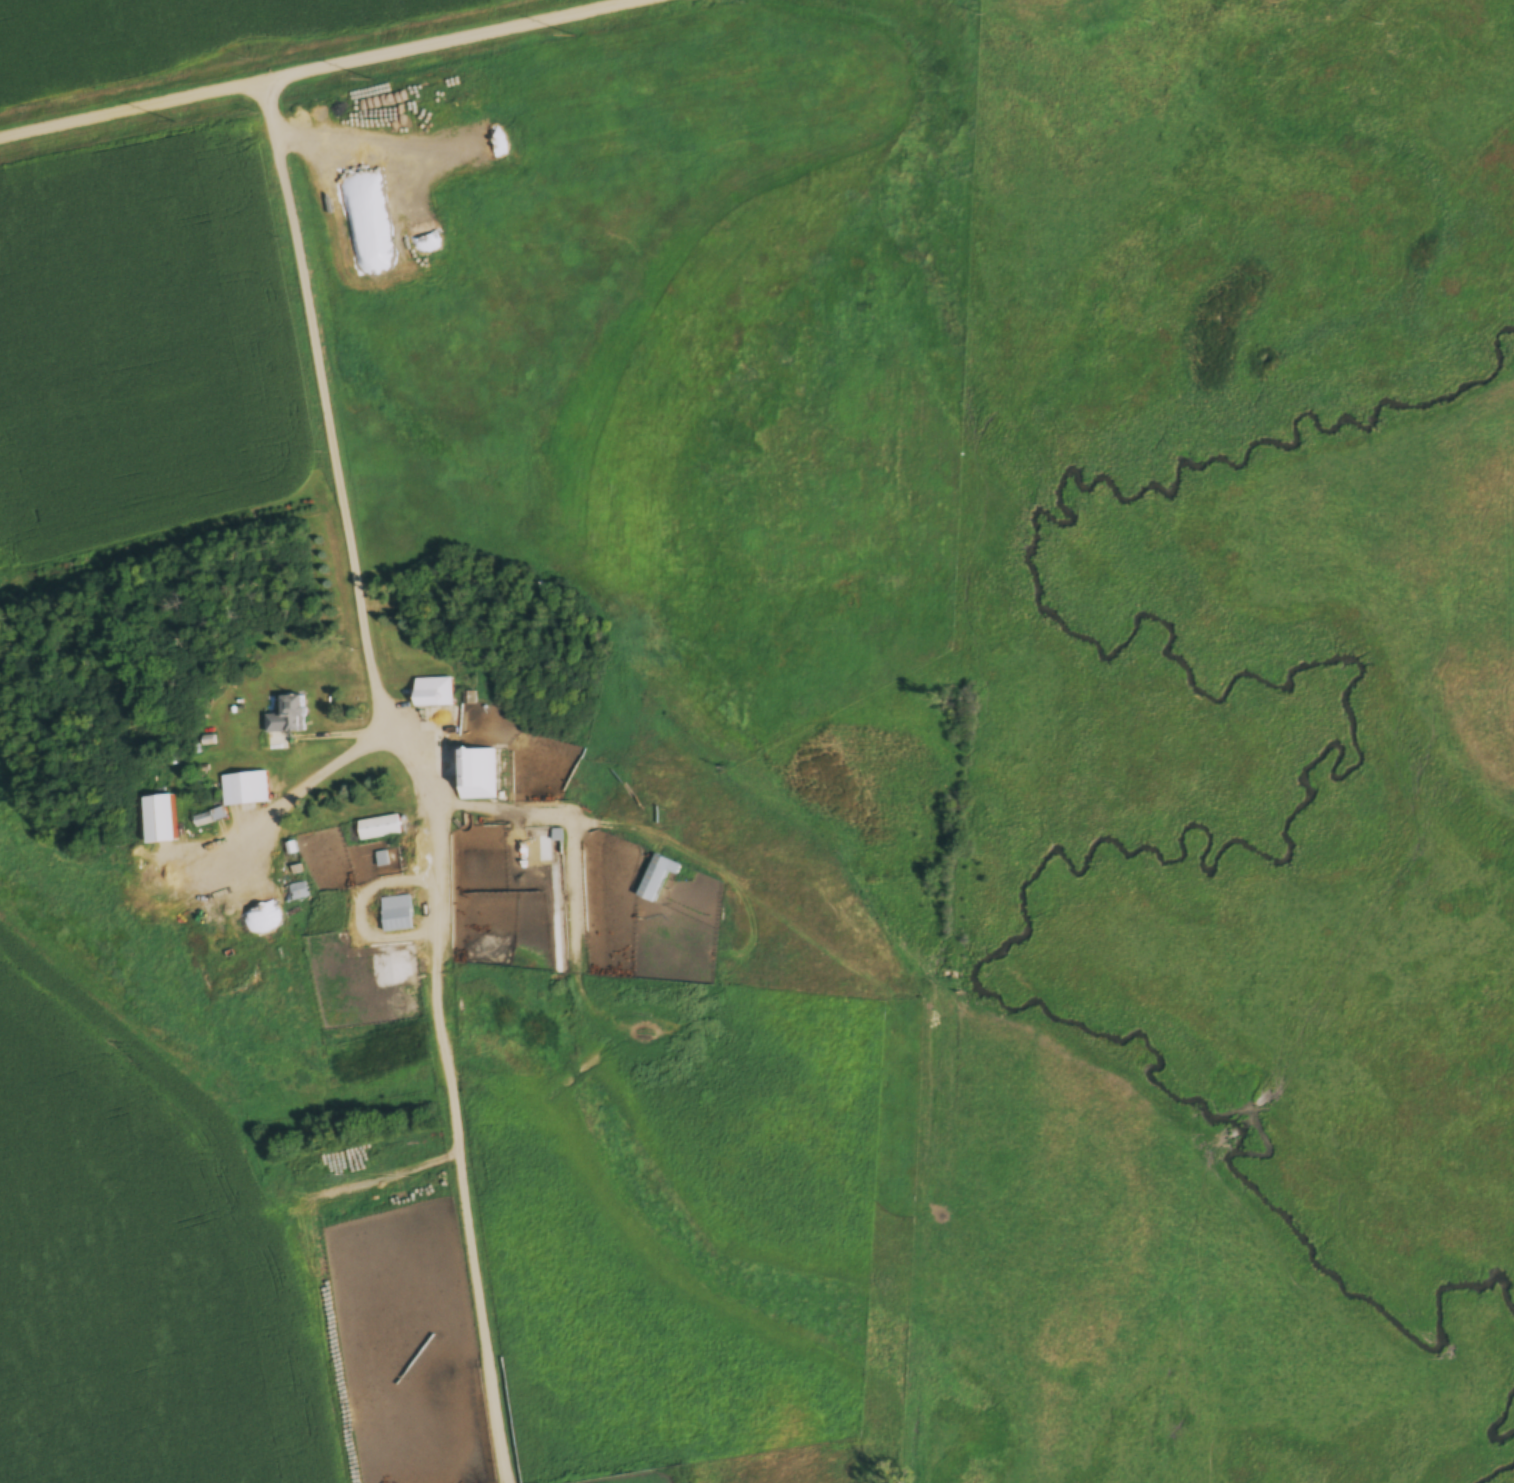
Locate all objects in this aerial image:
road: (319, 69)
road: (344, 515)
building: (439, 693)
building: (293, 715)
building: (479, 771)
building: (249, 790)
building: (209, 819)
building: (379, 829)
building: (656, 878)
building: (272, 899)
building: (397, 915)

